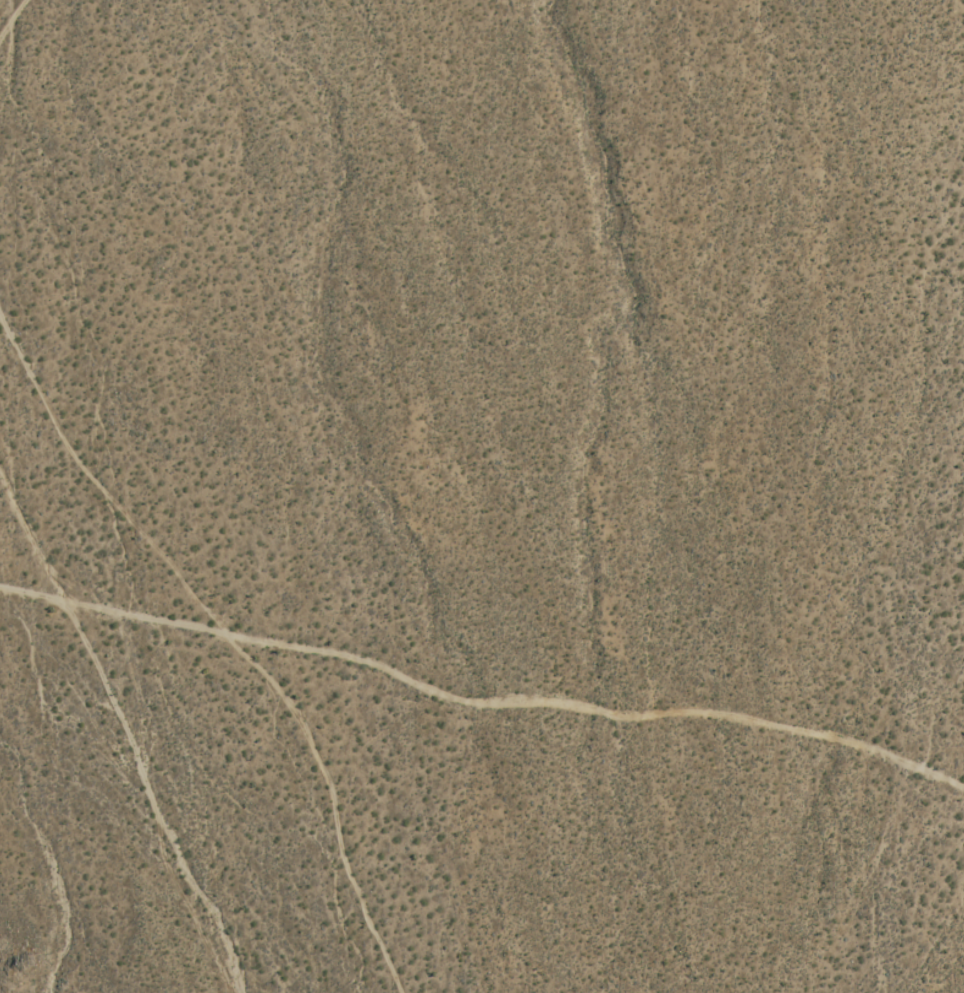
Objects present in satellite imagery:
road: (10, 23)
road: (94, 662)
road: (482, 688)

